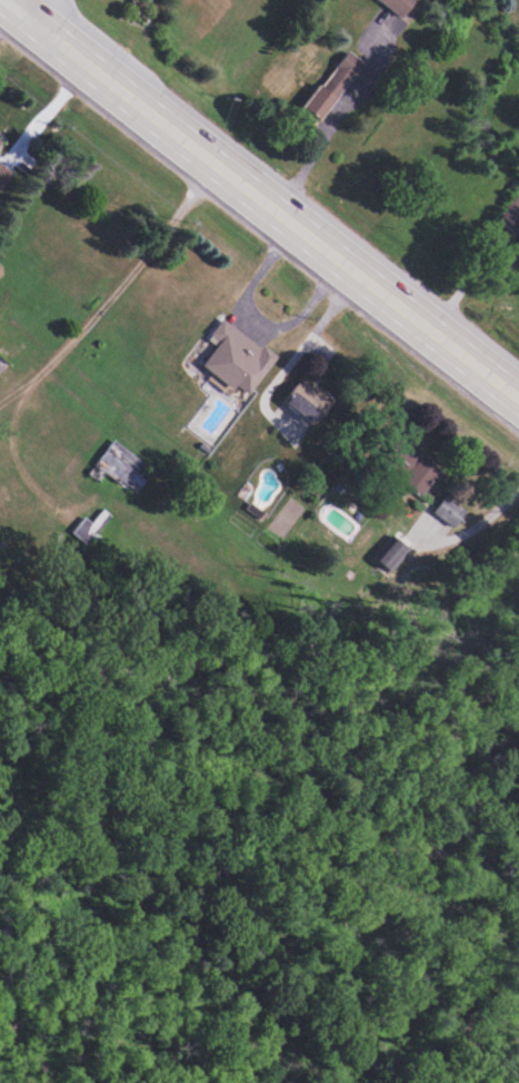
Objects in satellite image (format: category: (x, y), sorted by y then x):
road: (23, 6)
building: (400, 6)
building: (335, 86)
building: (0, 141)
road: (317, 148)
building: (4, 176)
road: (260, 198)
building: (511, 216)
building: (238, 360)
building: (309, 402)
building: (119, 467)
building: (421, 475)
building: (451, 511)
building: (90, 526)
road: (472, 528)
park: (208, 905)

